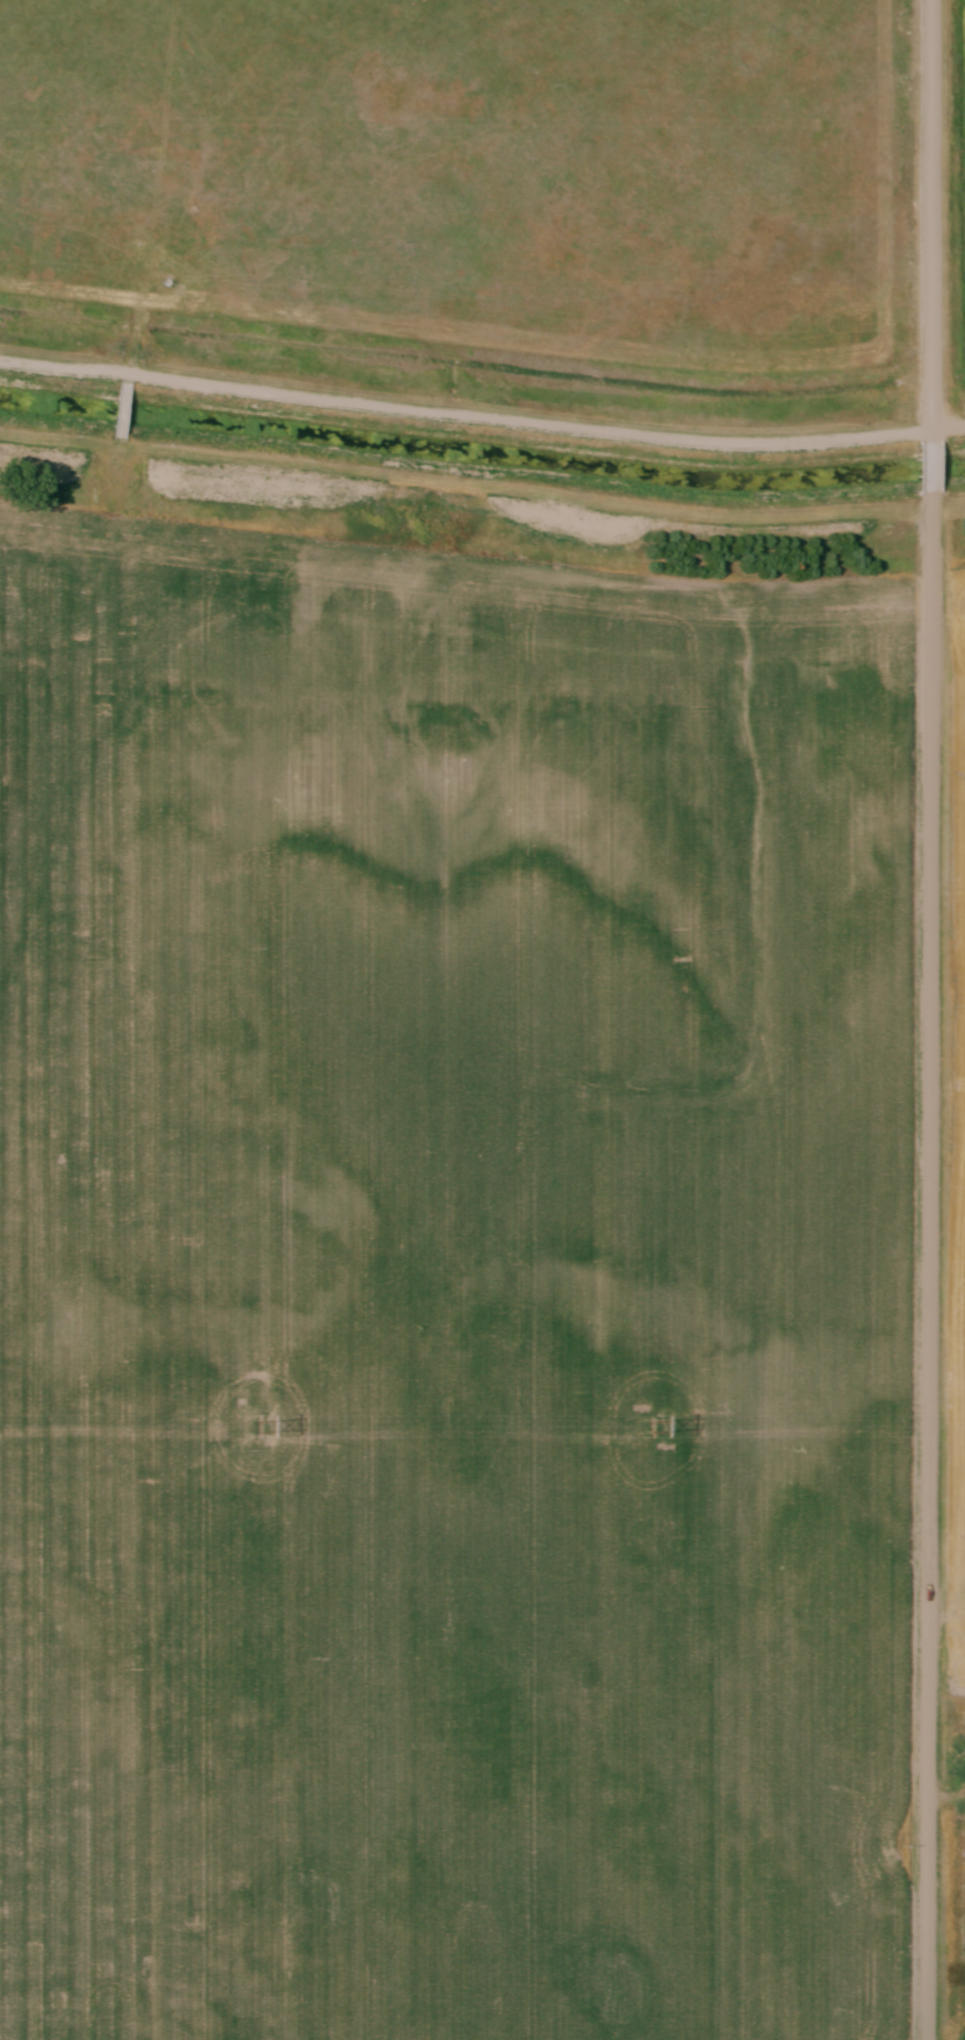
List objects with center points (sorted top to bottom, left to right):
road: (931, 219)
road: (482, 421)
road: (931, 466)
road: (930, 1267)
power tower: (266, 1428)
power tower: (647, 1429)

